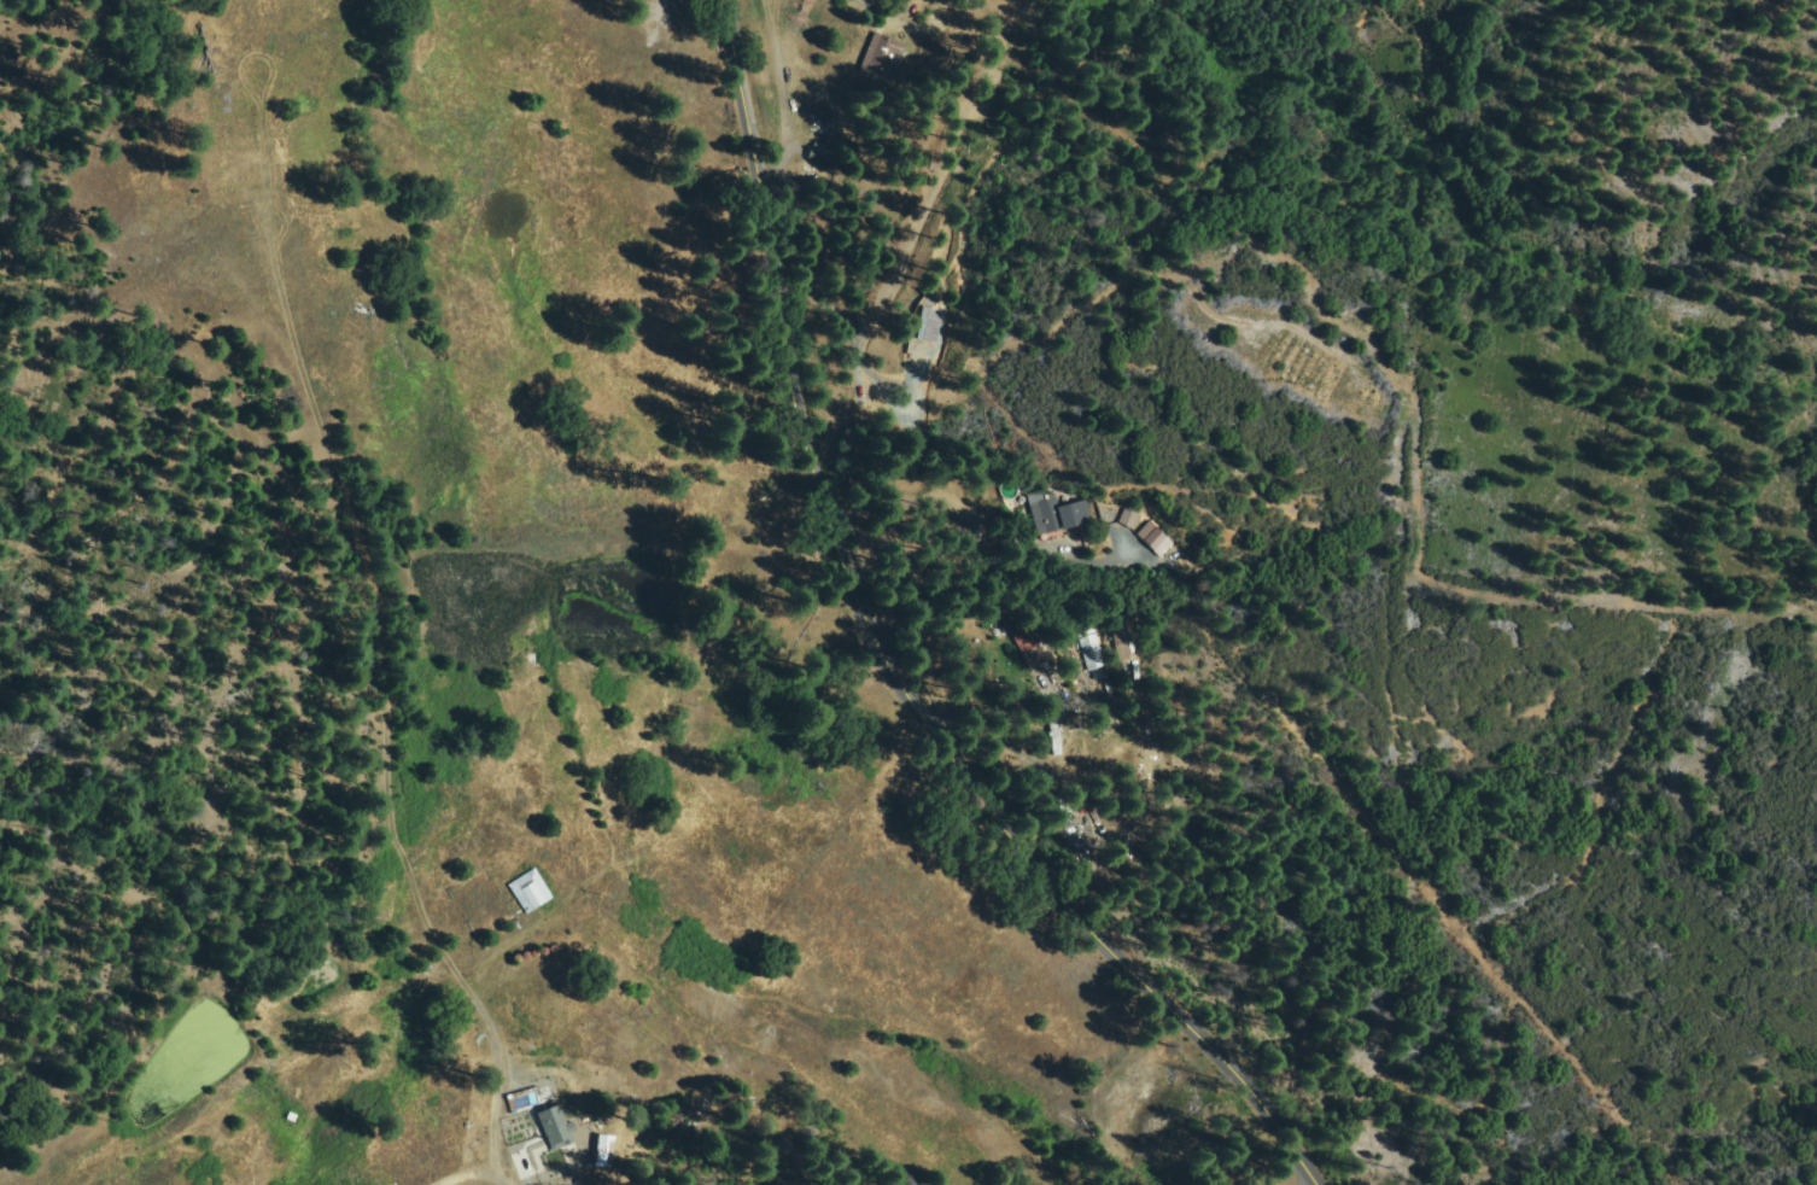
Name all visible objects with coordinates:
building: (882, 59)
building: (983, 106)
building: (813, 151)
building: (933, 163)
building: (929, 325)
building: (1056, 510)
building: (1129, 516)
building: (1156, 538)
building: (1182, 553)
building: (1121, 643)
building: (1027, 646)
road: (905, 650)
building: (1094, 652)
building: (1108, 681)
building: (1056, 736)
building: (530, 889)
building: (292, 1116)
building: (556, 1127)
building: (602, 1151)
building: (574, 1155)

